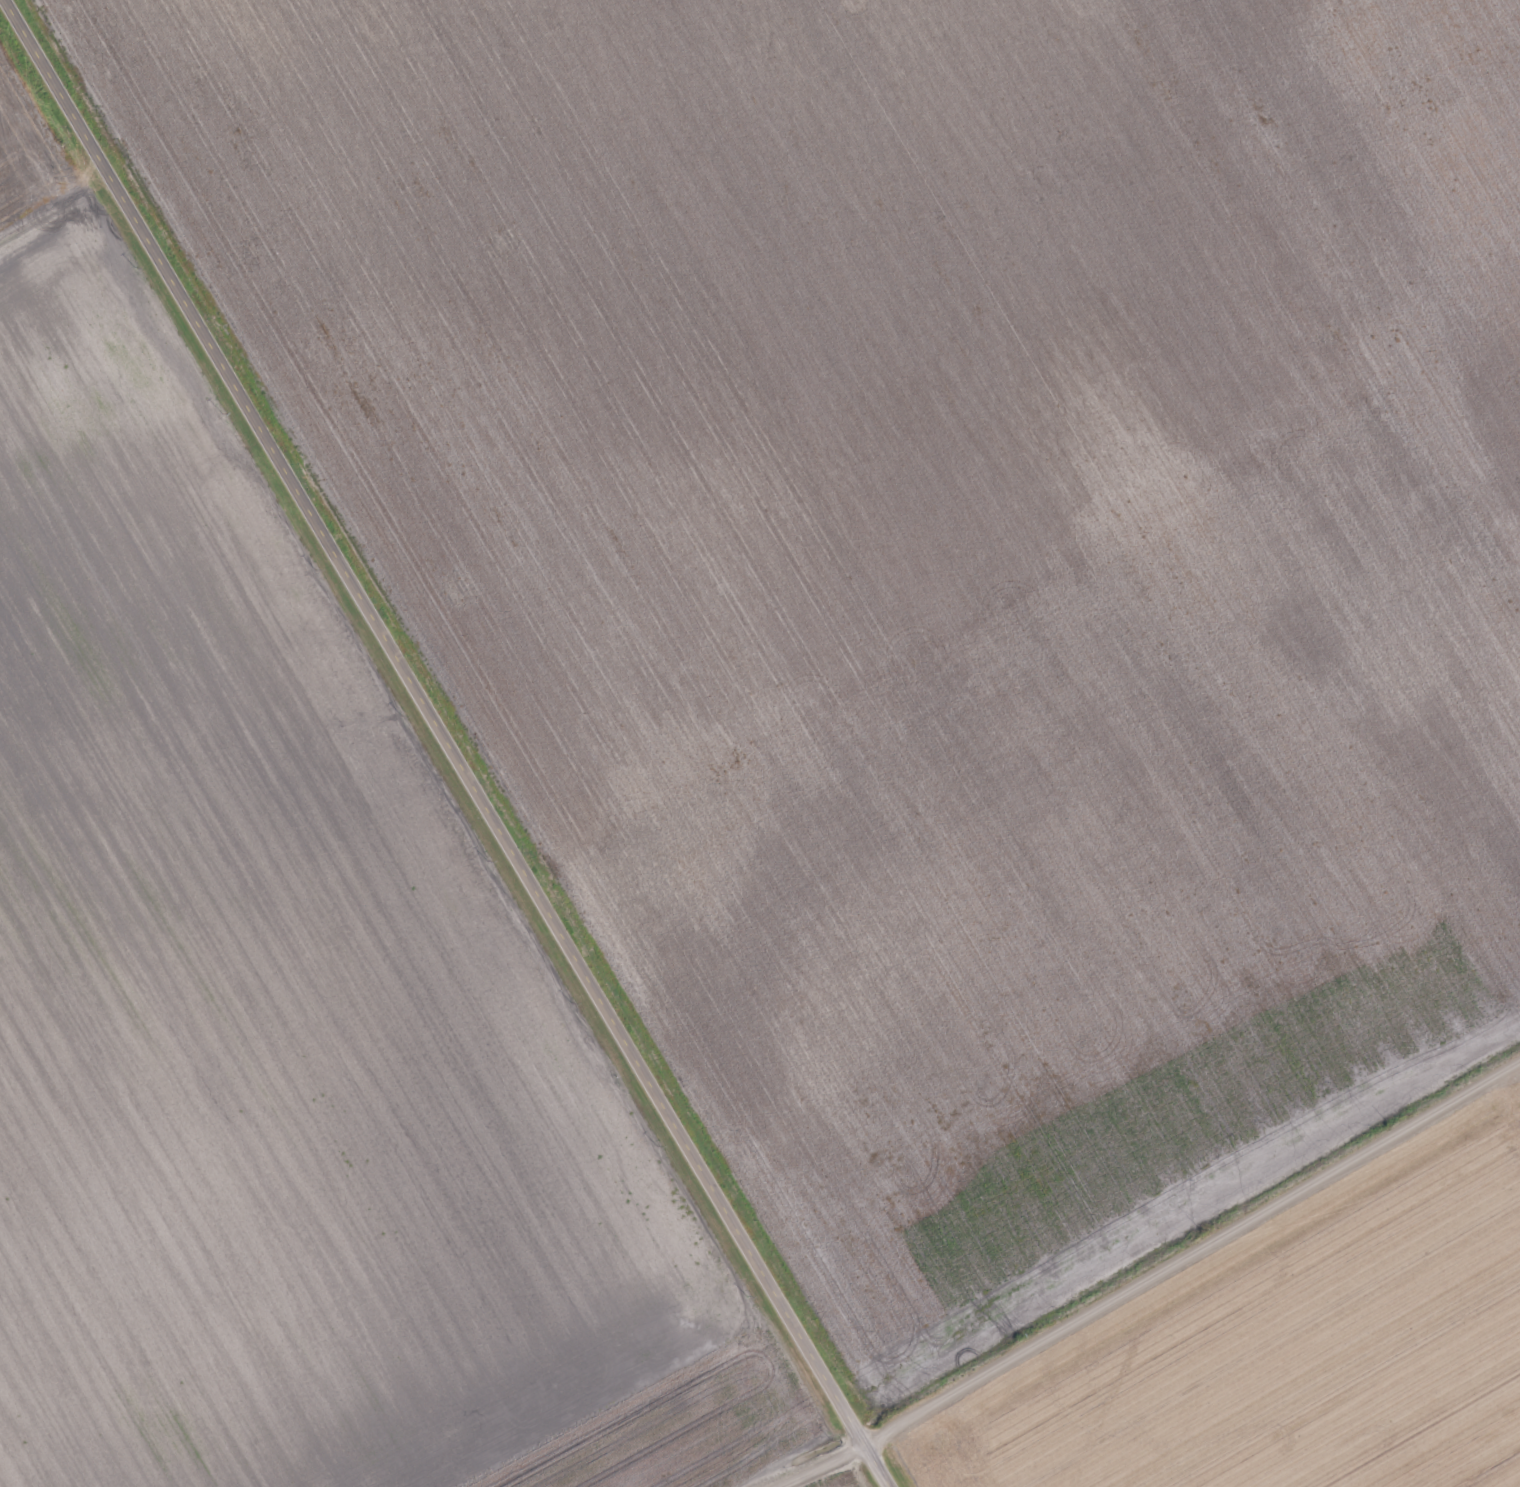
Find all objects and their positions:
road: (447, 743)
road: (1140, 1274)

